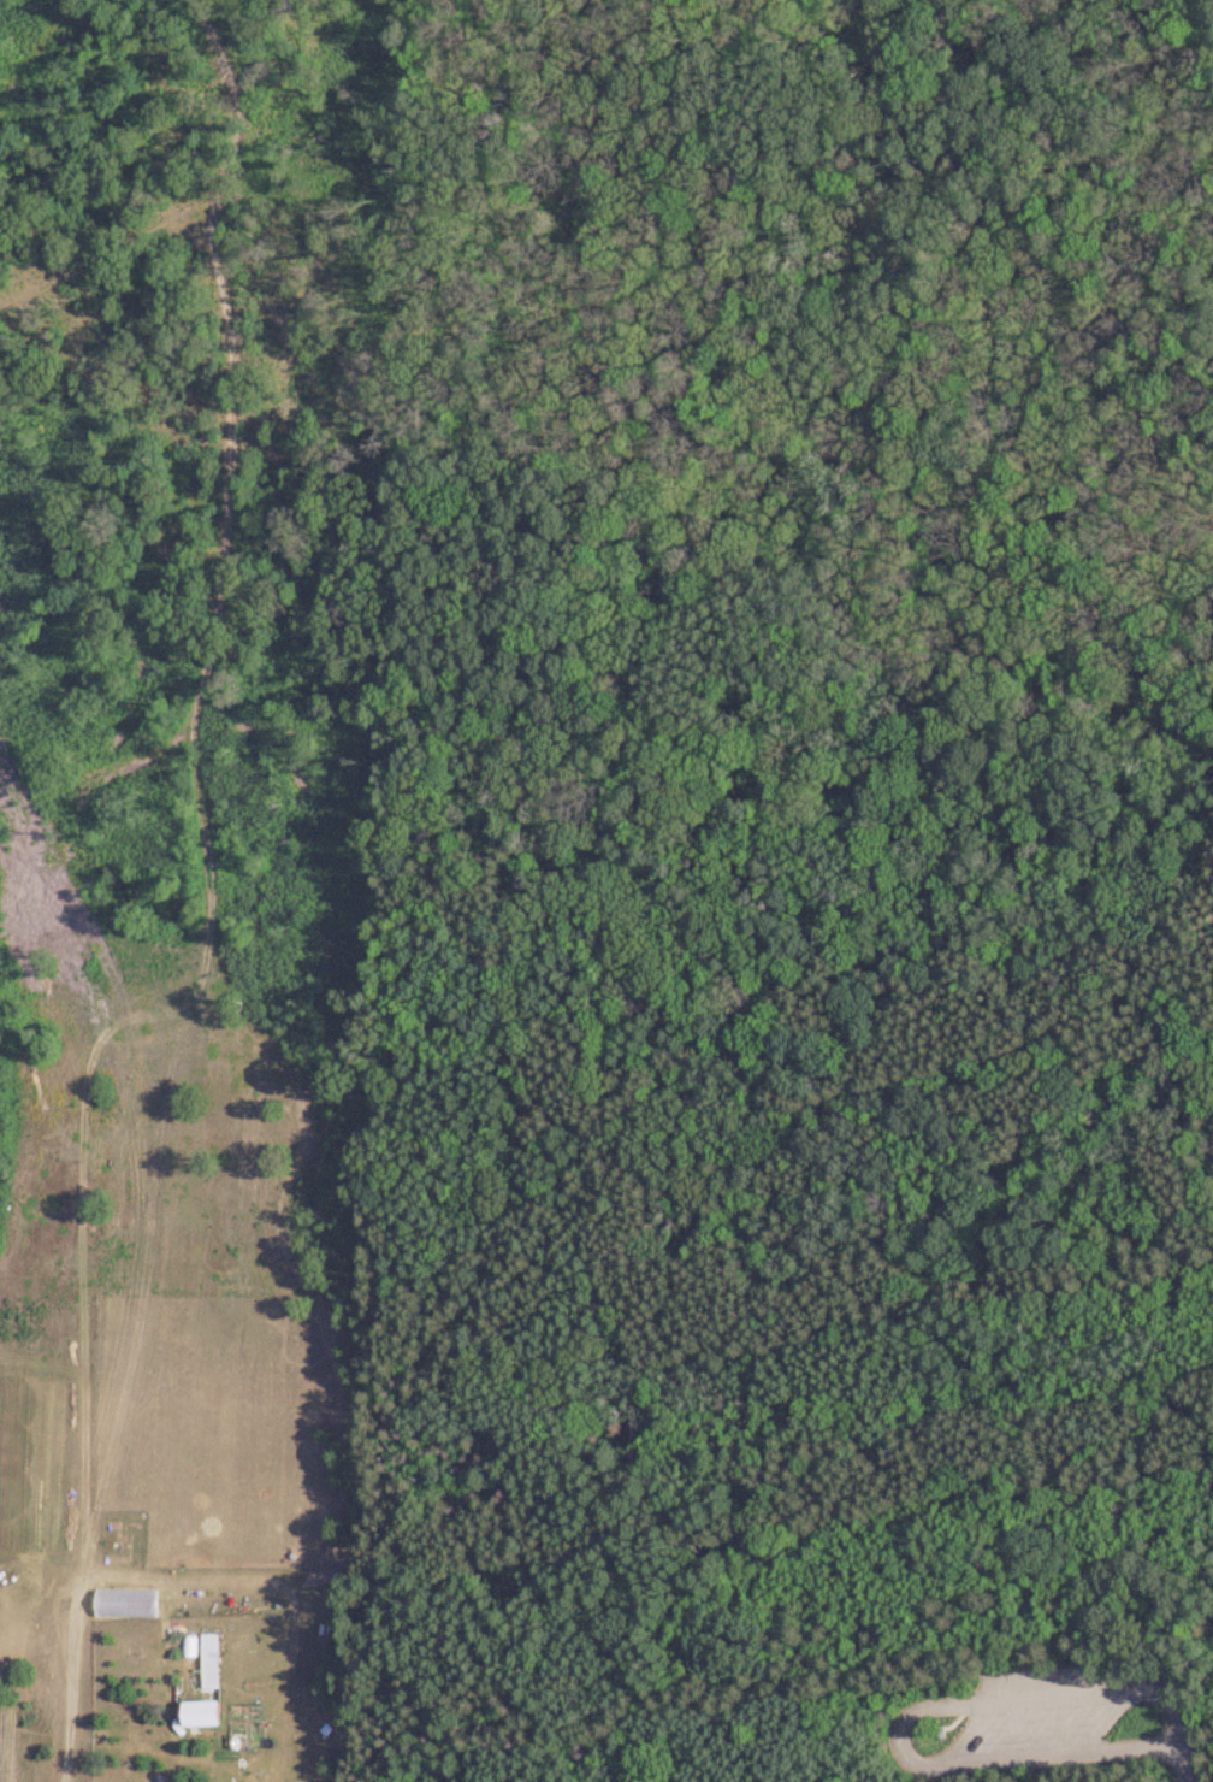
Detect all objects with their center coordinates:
road: (894, 881)
road: (639, 944)
road: (1143, 1544)
building: (326, 1629)
building: (209, 1659)
building: (199, 1712)
road: (912, 1713)
parking lot: (1036, 1713)
road: (1183, 1764)
building: (160, 1777)

